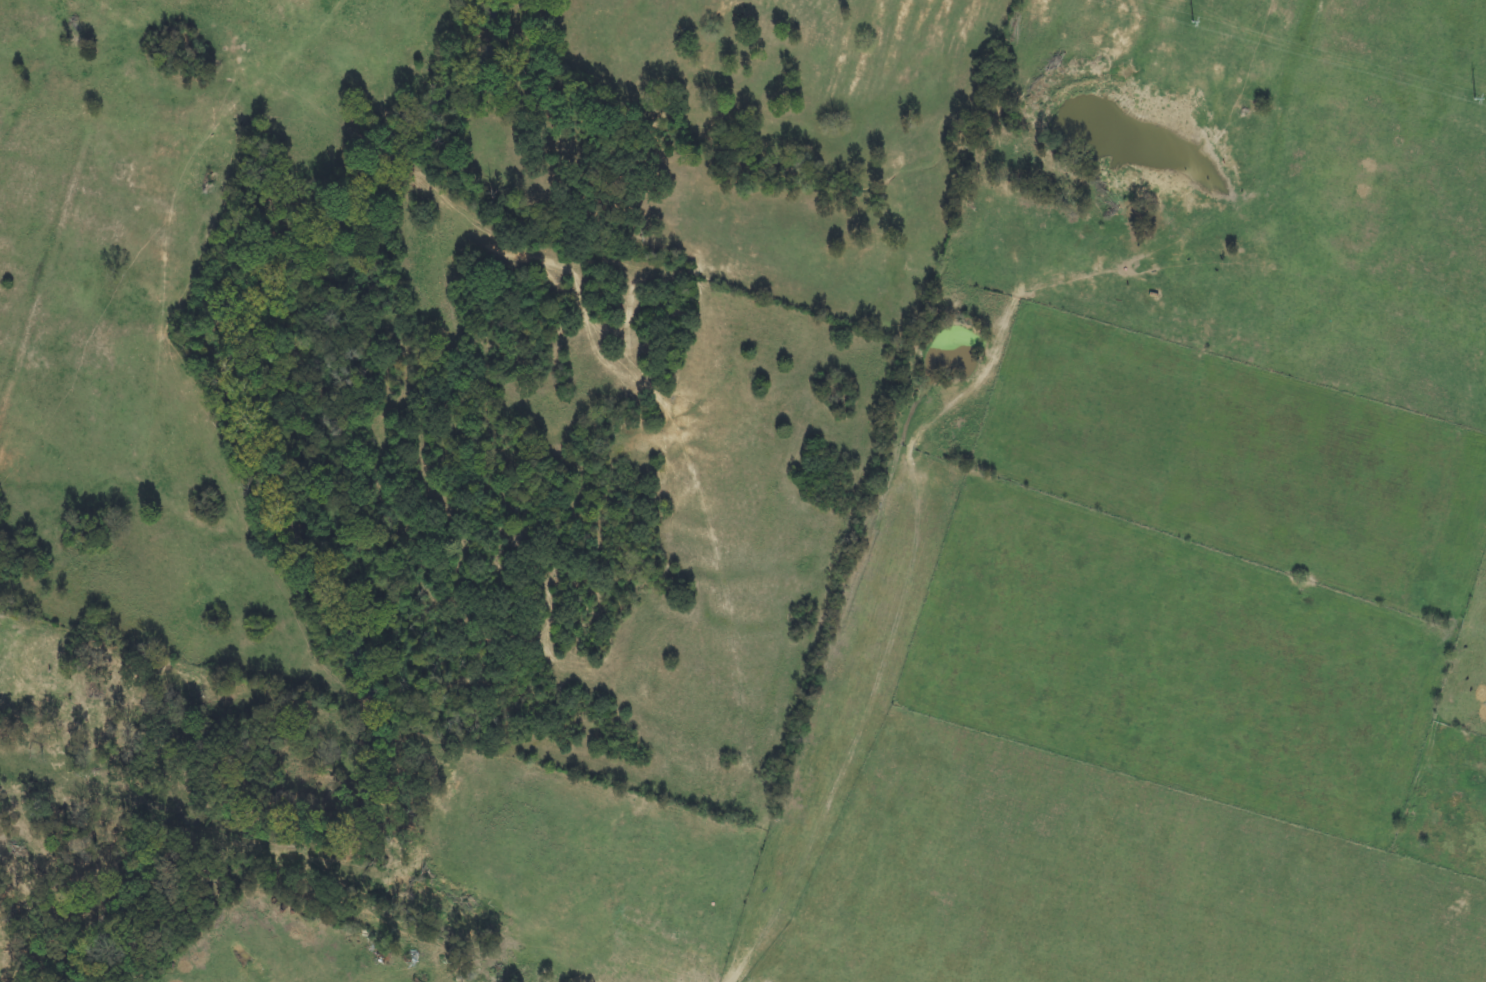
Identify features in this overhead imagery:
power tower: (1191, 22)
power tower: (1474, 99)

